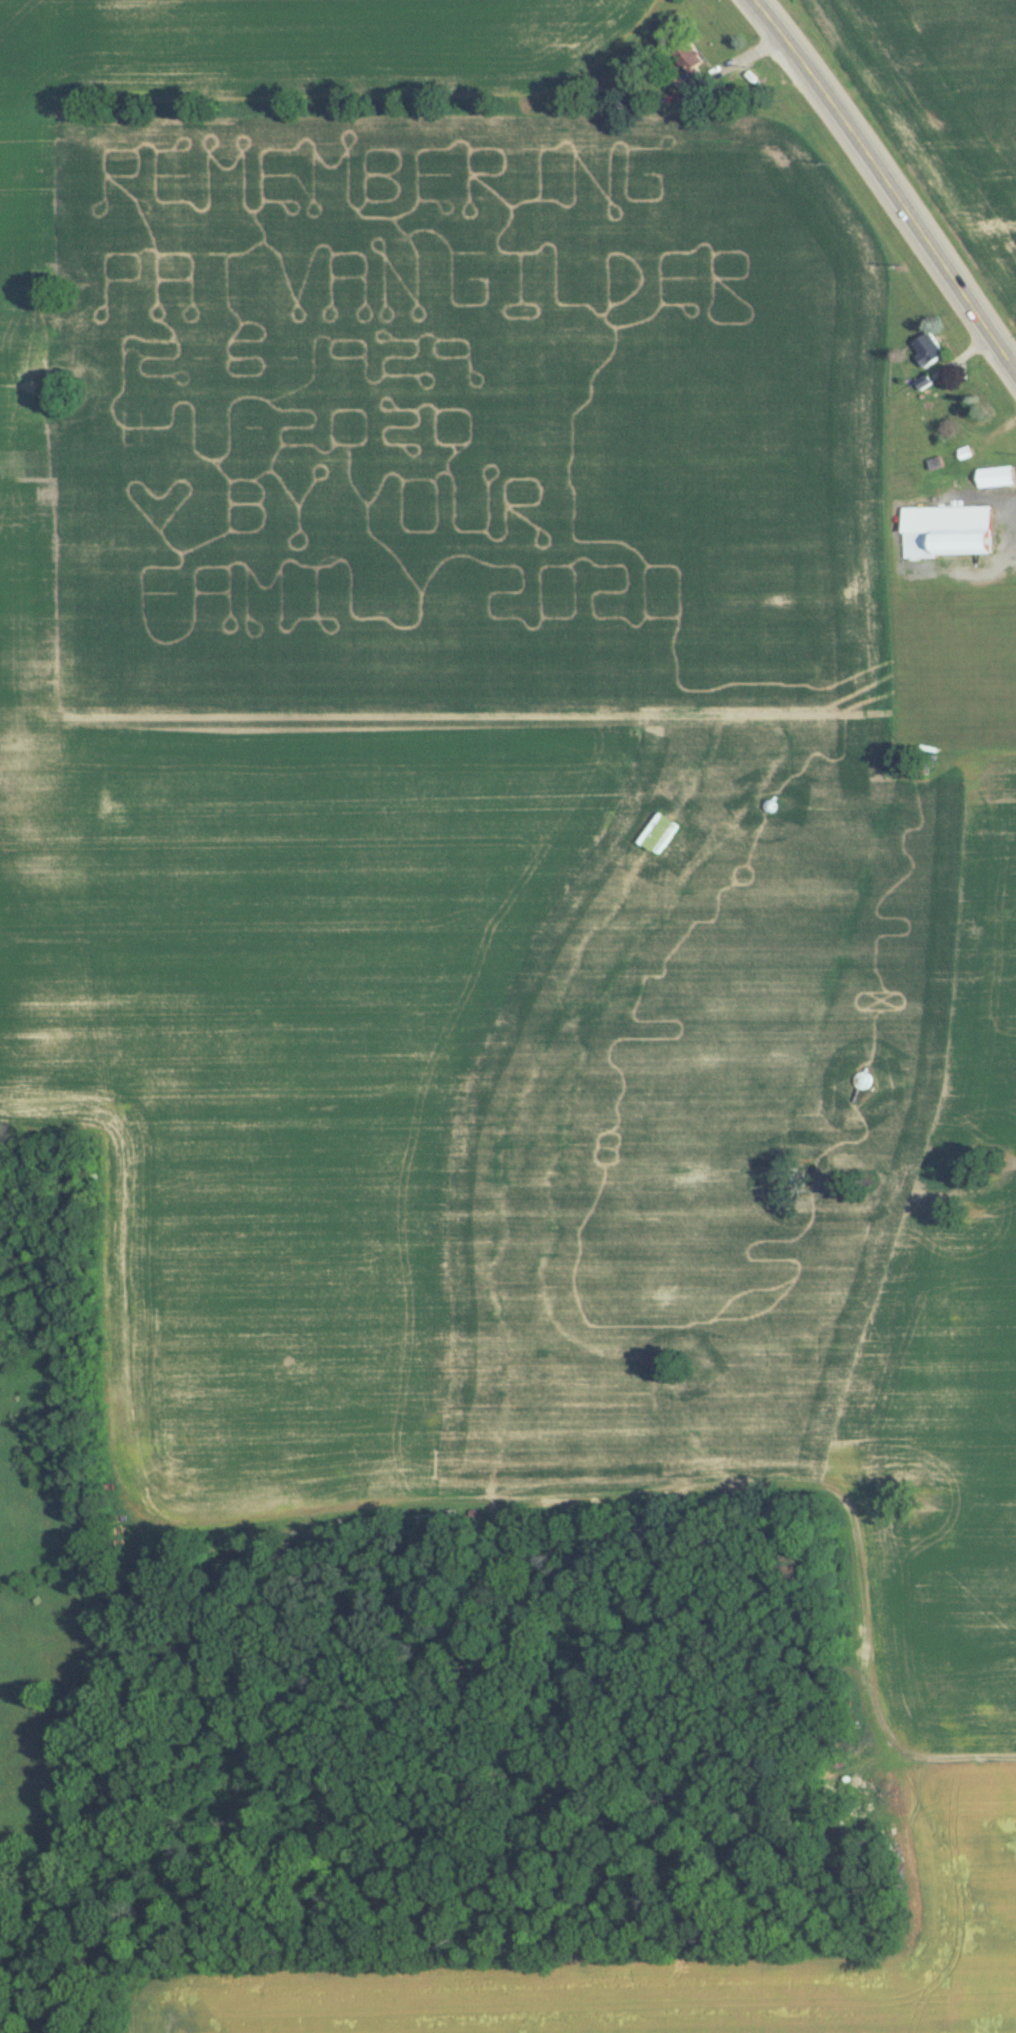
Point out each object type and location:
building: (688, 61)
road: (886, 185)
building: (926, 349)
building: (995, 477)
building: (946, 531)

